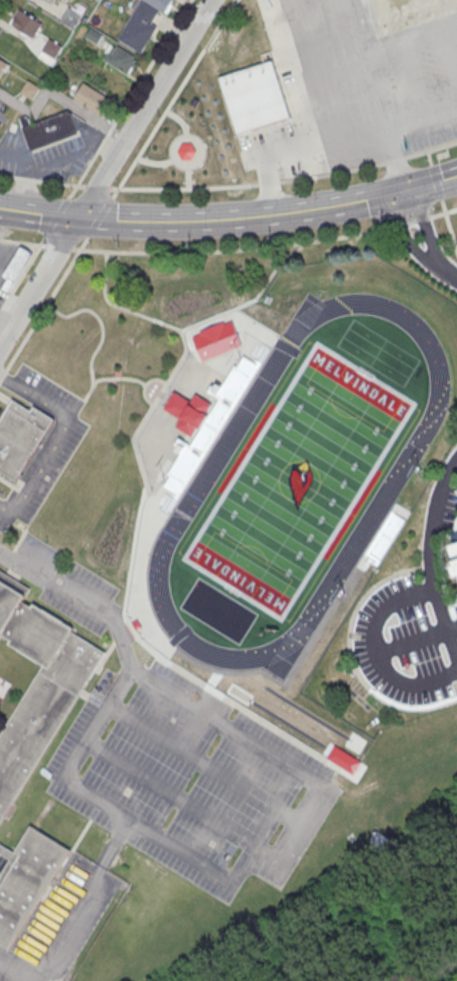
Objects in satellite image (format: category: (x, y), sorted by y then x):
building: (50, 1)
road: (3, 5)
building: (412, 10)
building: (70, 16)
building: (143, 22)
building: (26, 23)
road: (380, 48)
building: (50, 50)
building: (120, 58)
road: (447, 58)
building: (2, 65)
road: (320, 69)
parking lot: (375, 79)
road: (414, 84)
building: (29, 89)
road: (51, 92)
road: (373, 97)
building: (91, 98)
road: (130, 98)
road: (173, 98)
building: (255, 99)
road: (180, 121)
building: (0, 124)
road: (312, 124)
road: (421, 128)
building: (50, 129)
park: (193, 138)
road: (387, 142)
road: (430, 156)
road: (155, 163)
road: (187, 166)
road: (105, 172)
road: (188, 177)
road: (287, 178)
road: (41, 180)
road: (437, 180)
road: (98, 187)
traffic signals: (415, 188)
traffic signals: (404, 191)
traffic signals: (397, 193)
road: (443, 211)
road: (38, 213)
road: (268, 214)
road: (99, 216)
road: (57, 217)
traffic signals: (76, 221)
road: (414, 221)
road: (425, 224)
road: (449, 225)
road: (408, 232)
road: (22, 242)
road: (59, 246)
road: (235, 249)
road: (446, 267)
building: (15, 268)
road: (23, 273)
road: (46, 303)
road: (8, 317)
road: (100, 321)
road: (198, 330)
road: (2, 374)
road: (0, 376)
road: (109, 377)
road: (145, 385)
road: (5, 397)
building: (189, 412)
road: (56, 435)
building: (20, 438)
park: (297, 480)
track: (296, 481)
road: (10, 482)
road: (22, 489)
building: (455, 549)
road: (428, 560)
building: (456, 566)
road: (136, 585)
road: (76, 602)
parking lot: (413, 616)
road: (452, 630)
road: (382, 652)
building: (39, 684)
parking lot: (181, 757)
road: (202, 763)
park: (386, 792)
road: (180, 798)
road: (244, 865)
building: (26, 881)
road: (80, 899)
road: (12, 973)

